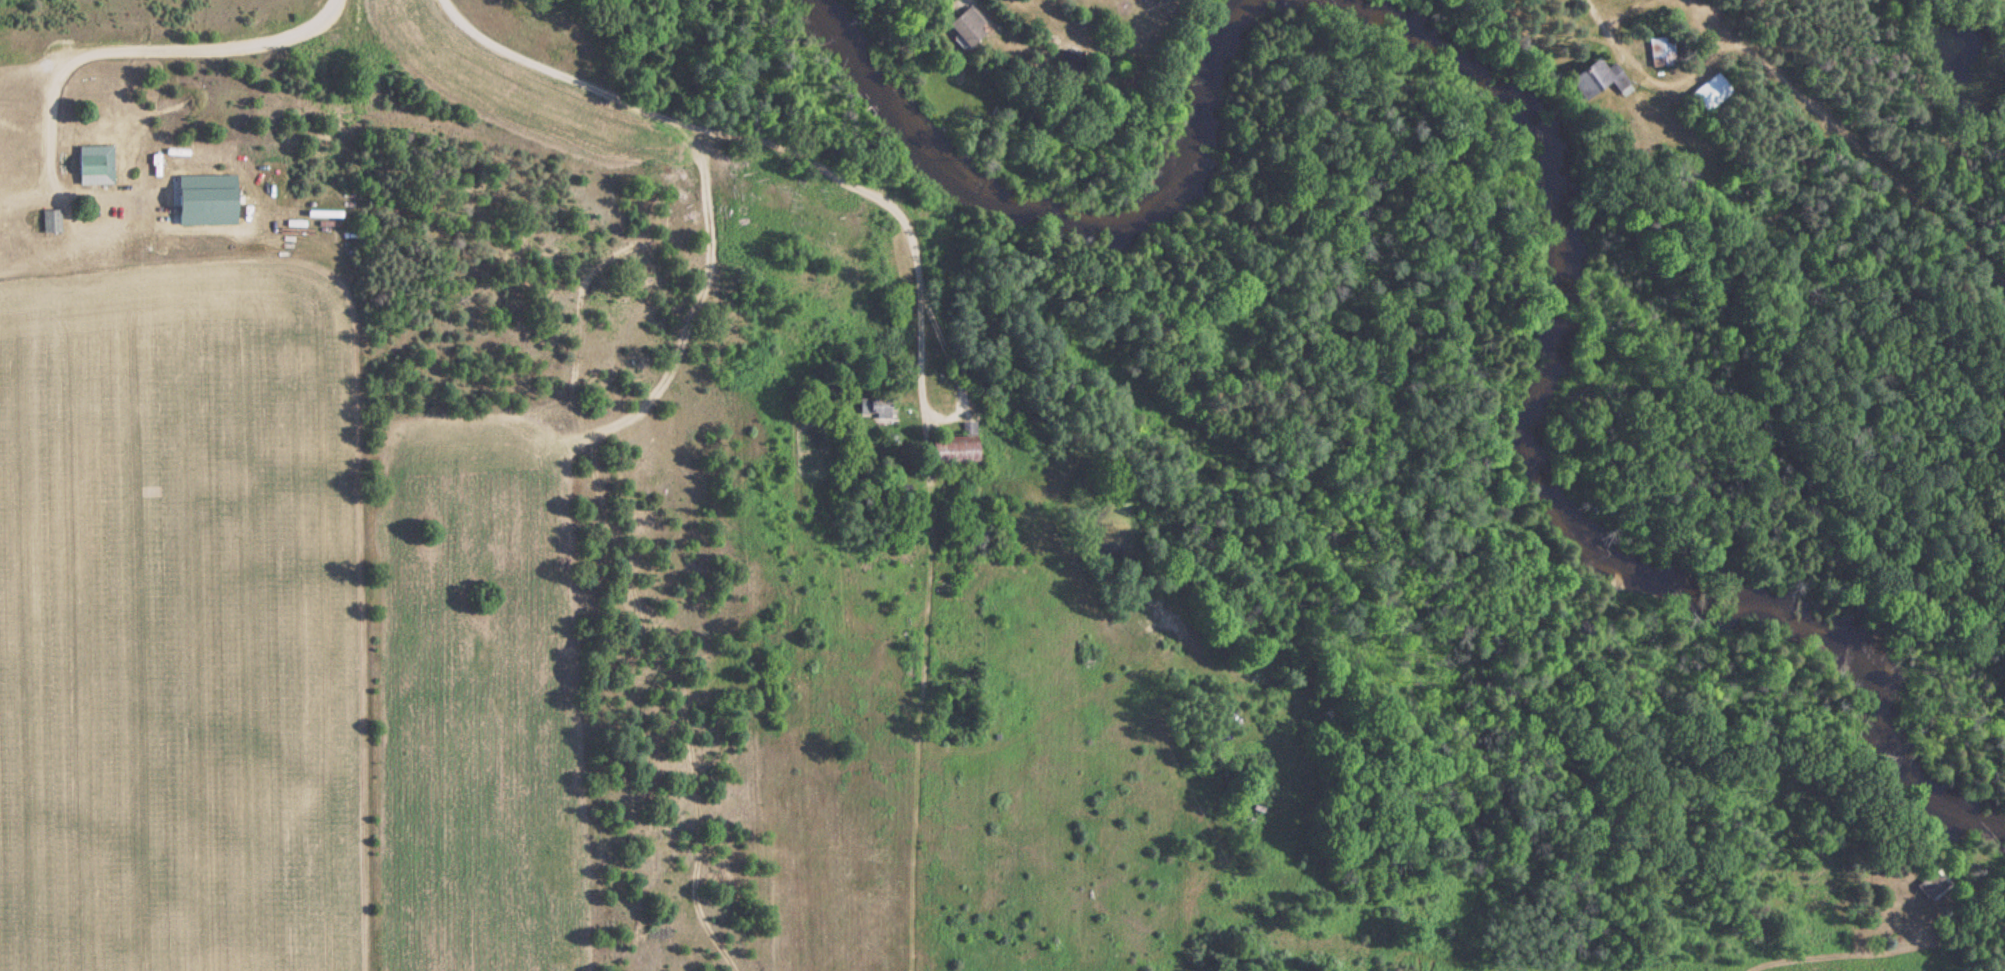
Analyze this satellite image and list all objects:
building: (965, 27)
building: (1659, 51)
building: (1596, 79)
building: (1709, 92)
road: (704, 127)
building: (89, 165)
river: (1052, 218)
building: (49, 220)
building: (873, 406)
road: (946, 414)
building: (953, 451)
river: (1547, 495)
crop: (180, 623)
crop: (476, 702)
building: (1928, 884)

